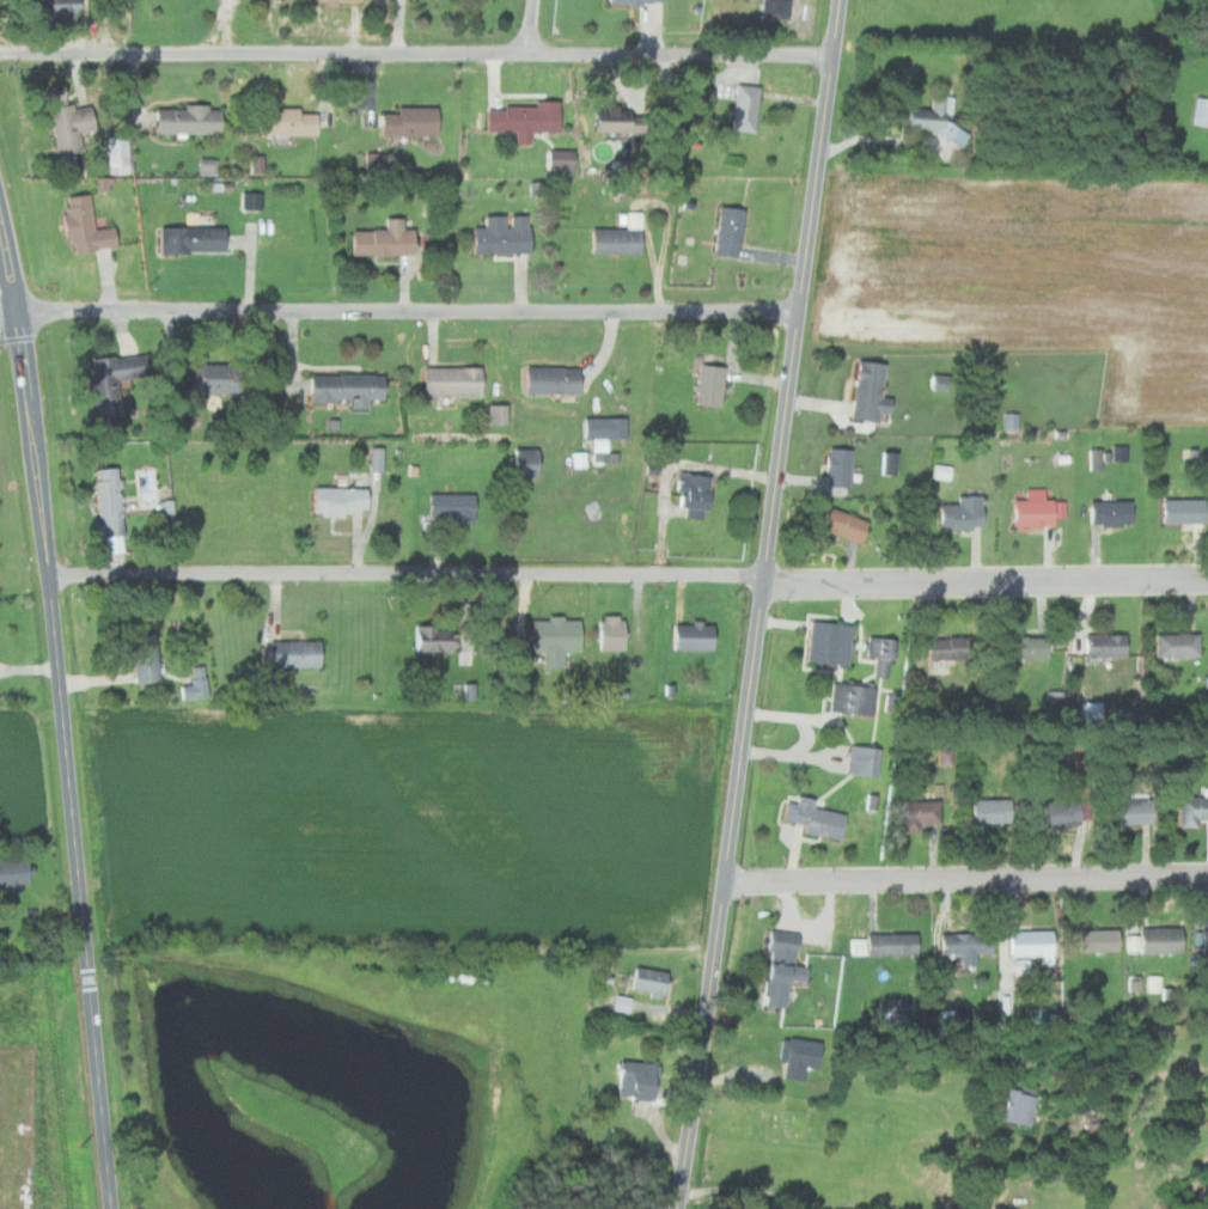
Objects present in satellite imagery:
building: (346, 1)
building: (639, 1)
building: (63, 10)
building: (777, 10)
road: (531, 26)
road: (416, 54)
building: (748, 108)
building: (1201, 112)
building: (604, 117)
building: (932, 117)
building: (191, 120)
building: (526, 120)
building: (632, 121)
building: (292, 122)
building: (414, 122)
building: (73, 128)
building: (120, 155)
building: (565, 160)
building: (206, 166)
building: (249, 201)
building: (87, 226)
building: (732, 230)
building: (506, 233)
building: (386, 239)
building: (620, 239)
building: (194, 240)
road: (8, 309)
road: (408, 310)
building: (116, 379)
building: (220, 380)
building: (456, 380)
building: (555, 380)
building: (713, 385)
building: (349, 386)
building: (873, 391)
building: (499, 414)
building: (1009, 420)
building: (609, 428)
building: (527, 463)
building: (891, 463)
building: (842, 466)
building: (941, 471)
building: (695, 494)
building: (112, 501)
building: (341, 501)
building: (453, 506)
building: (1186, 511)
building: (1038, 512)
building: (1114, 512)
building: (966, 513)
building: (846, 524)
road: (408, 572)
road: (987, 580)
road: (762, 604)
building: (612, 633)
building: (695, 636)
building: (434, 639)
building: (556, 640)
building: (831, 642)
building: (1110, 645)
building: (1180, 645)
building: (953, 647)
building: (1030, 647)
building: (881, 653)
building: (298, 654)
building: (147, 658)
building: (197, 684)
building: (855, 698)
road: (62, 708)
building: (1088, 710)
building: (862, 759)
building: (1195, 810)
building: (1134, 811)
building: (923, 812)
building: (995, 812)
building: (1066, 812)
building: (818, 817)
building: (11, 874)
road: (965, 877)
building: (1164, 939)
building: (1102, 940)
building: (1202, 940)
building: (1035, 941)
building: (969, 942)
building: (897, 944)
building: (860, 945)
building: (785, 969)
building: (456, 973)
building: (651, 981)
building: (1152, 983)
building: (618, 1003)
building: (803, 1055)
building: (641, 1080)
building: (1013, 1105)
road: (746, 1187)

